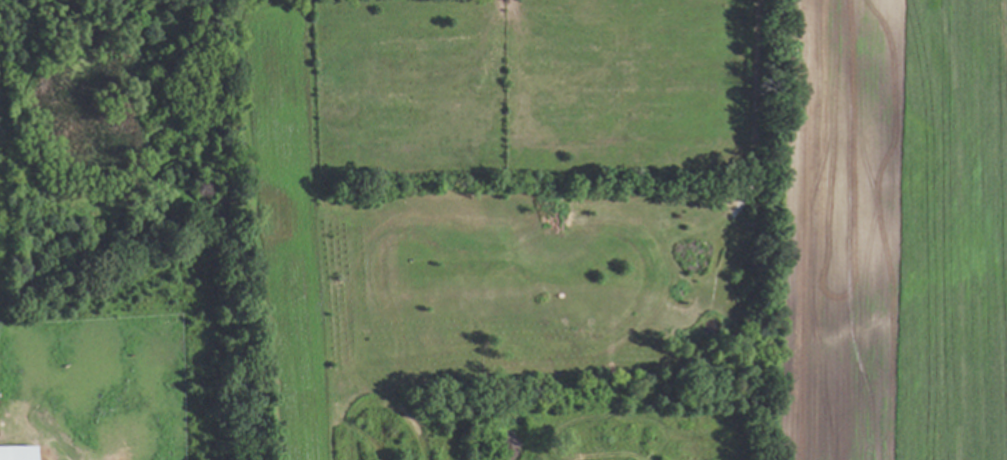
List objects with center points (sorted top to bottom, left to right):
crop: (890, 231)
building: (16, 452)

